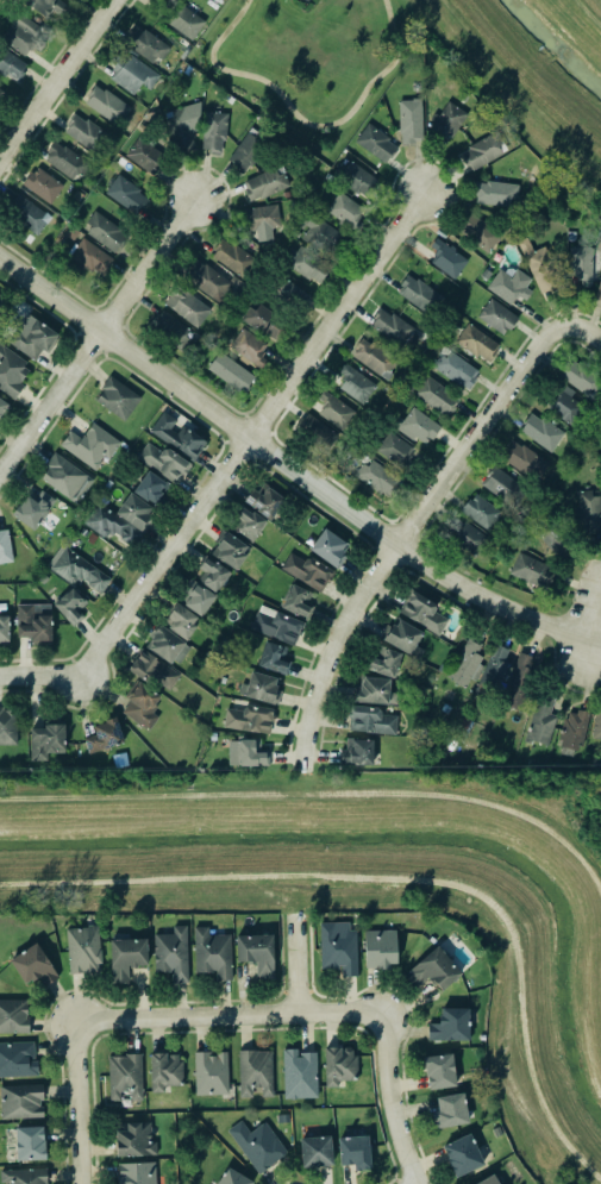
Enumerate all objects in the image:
building: (73, 0)
building: (50, 7)
building: (186, 21)
building: (25, 35)
building: (148, 45)
river: (552, 49)
park: (306, 61)
building: (11, 65)
building: (132, 74)
road: (56, 80)
building: (1, 90)
building: (107, 104)
road: (302, 119)
building: (411, 120)
building: (446, 120)
building: (184, 127)
building: (214, 131)
building: (87, 132)
building: (376, 143)
building: (248, 151)
building: (483, 151)
building: (145, 155)
building: (65, 159)
building: (356, 178)
building: (265, 183)
building: (43, 184)
building: (496, 193)
building: (126, 194)
building: (346, 212)
building: (27, 213)
building: (263, 223)
building: (105, 231)
building: (478, 232)
building: (323, 236)
building: (89, 257)
building: (233, 257)
building: (447, 258)
building: (309, 264)
building: (540, 265)
building: (581, 265)
building: (207, 280)
building: (511, 286)
building: (599, 290)
building: (289, 294)
building: (419, 295)
building: (1, 300)
building: (187, 306)
building: (497, 315)
building: (263, 320)
road: (588, 326)
building: (171, 328)
building: (394, 330)
building: (32, 339)
road: (96, 339)
building: (477, 343)
building: (250, 347)
building: (375, 358)
building: (456, 369)
building: (12, 372)
building: (231, 372)
building: (581, 377)
building: (356, 384)
building: (436, 396)
building: (118, 397)
building: (565, 405)
building: (2, 406)
building: (336, 412)
building: (599, 422)
building: (420, 425)
road: (256, 430)
building: (317, 432)
building: (541, 432)
building: (177, 436)
building: (90, 445)
building: (395, 450)
building: (525, 461)
building: (162, 462)
road: (288, 468)
building: (67, 477)
building: (378, 478)
road: (0, 482)
building: (503, 487)
building: (150, 488)
building: (264, 501)
building: (32, 509)
building: (481, 512)
building: (589, 512)
building: (120, 518)
building: (249, 524)
road: (418, 524)
building: (469, 539)
building: (5, 546)
building: (330, 547)
building: (230, 550)
building: (531, 570)
building: (80, 571)
building: (307, 571)
building: (212, 575)
building: (199, 600)
building: (298, 601)
building: (70, 604)
building: (422, 612)
building: (181, 620)
building: (35, 622)
building: (276, 625)
building: (4, 629)
building: (403, 638)
building: (168, 645)
building: (275, 658)
building: (384, 662)
building: (467, 664)
road: (597, 665)
building: (494, 669)
building: (154, 670)
road: (46, 672)
building: (520, 681)
building: (259, 688)
building: (375, 691)
building: (142, 704)
building: (249, 719)
building: (370, 720)
building: (541, 720)
building: (597, 725)
building: (8, 726)
building: (459, 727)
building: (574, 729)
building: (105, 735)
building: (48, 740)
building: (357, 752)
building: (249, 754)
building: (338, 947)
building: (378, 947)
building: (83, 950)
building: (170, 952)
building: (255, 952)
building: (213, 953)
building: (126, 958)
building: (32, 964)
road: (293, 965)
building: (432, 967)
building: (12, 1015)
road: (226, 1016)
building: (450, 1026)
building: (17, 1058)
building: (339, 1065)
building: (438, 1069)
building: (164, 1071)
building: (255, 1072)
building: (298, 1072)
building: (211, 1073)
building: (125, 1077)
building: (21, 1101)
road: (389, 1101)
road: (75, 1103)
building: (449, 1108)
building: (132, 1138)
building: (29, 1141)
building: (257, 1144)
building: (314, 1148)
building: (352, 1149)
building: (462, 1155)
building: (136, 1173)
building: (24, 1176)
building: (231, 1177)
building: (486, 1179)

